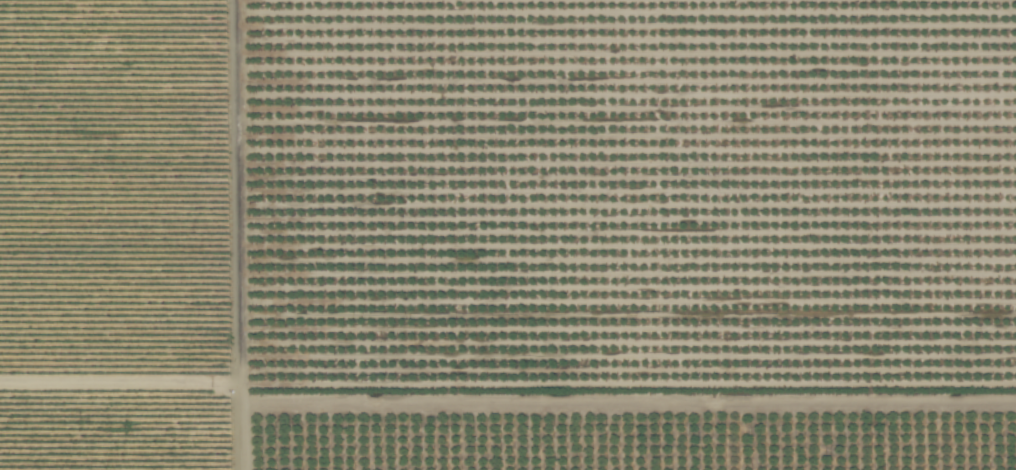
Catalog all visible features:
road: (243, 235)
crop: (508, 235)

